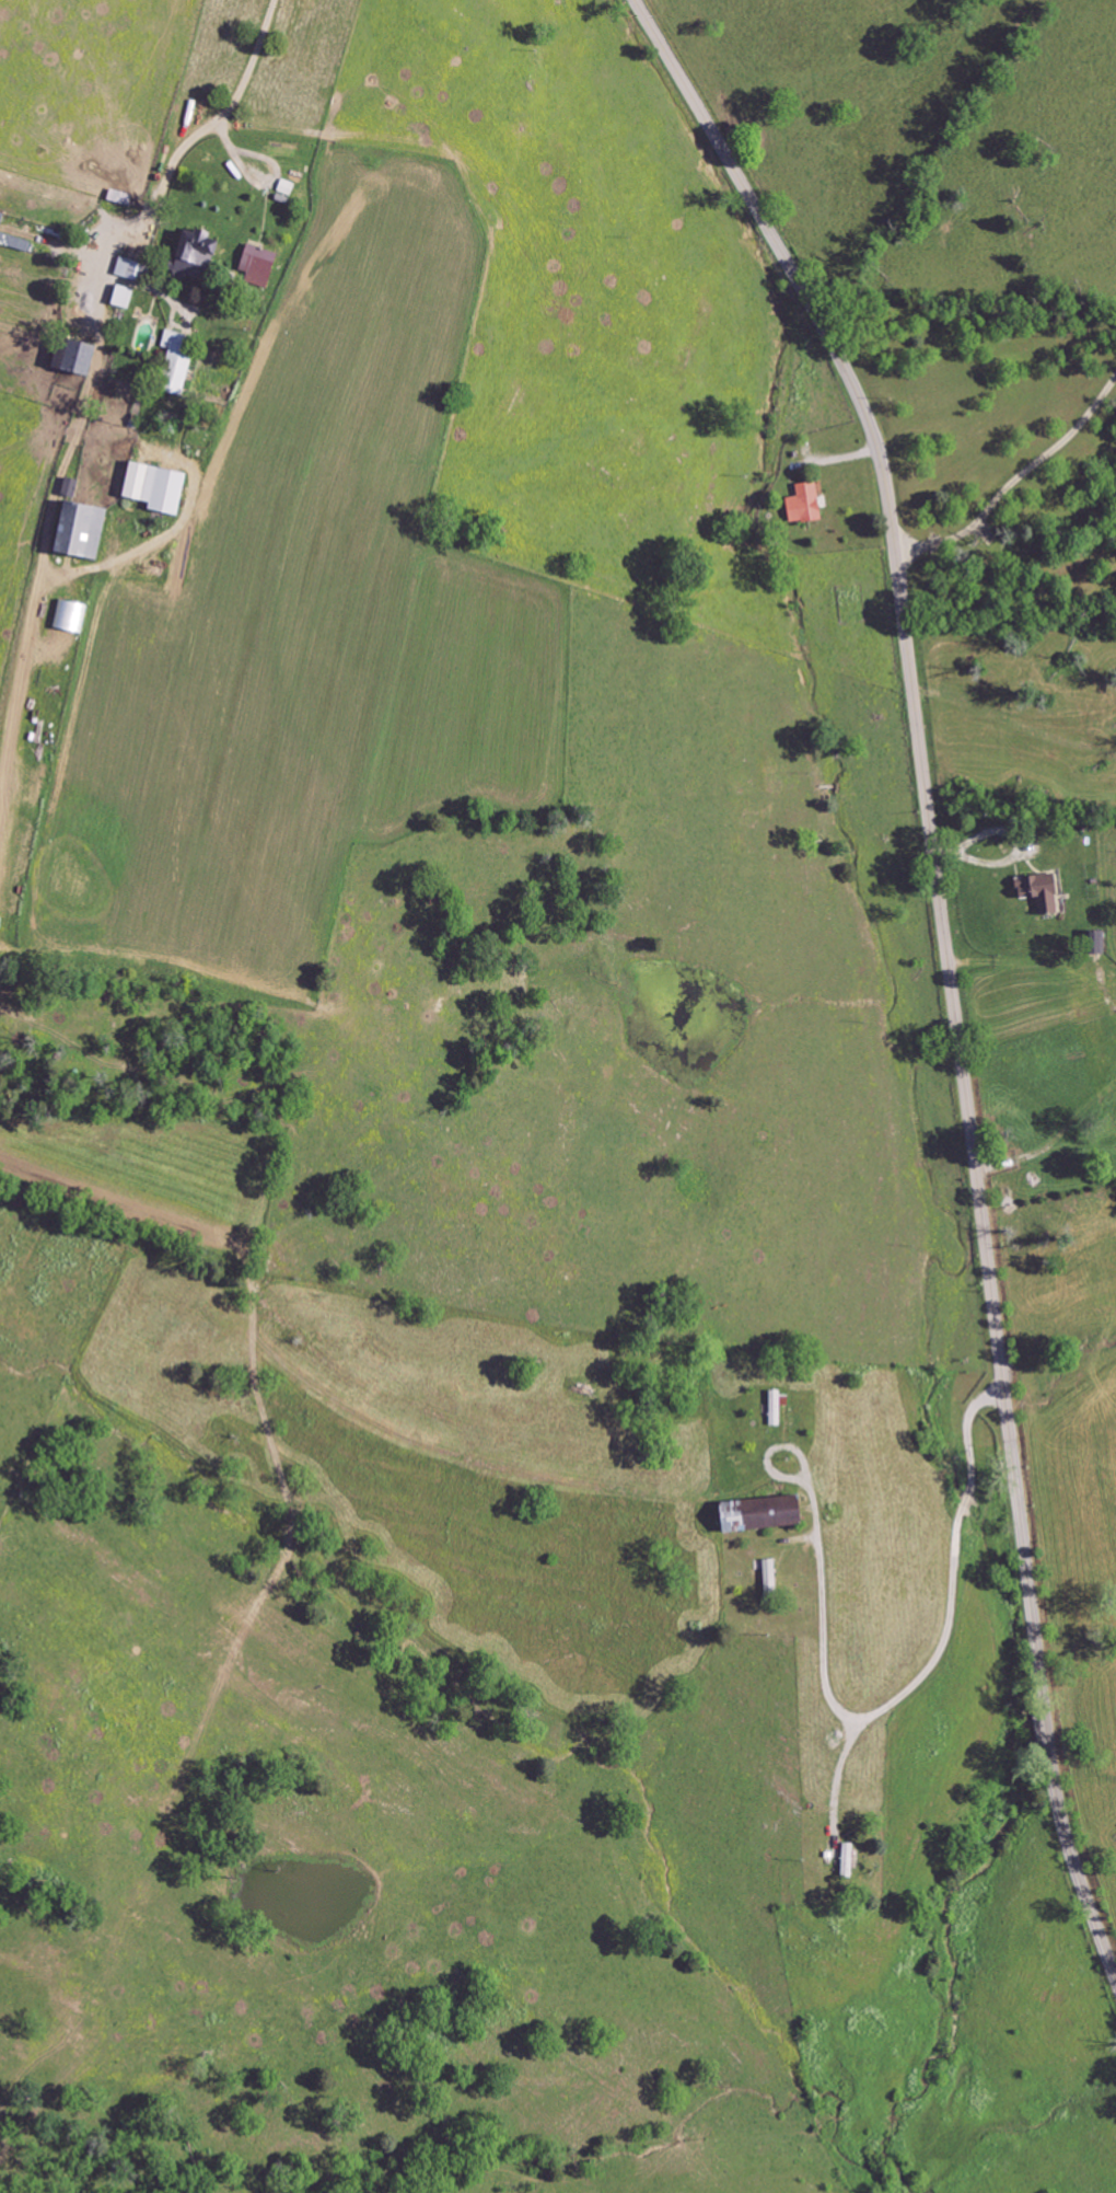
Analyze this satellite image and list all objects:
road: (213, 126)
road: (259, 180)
building: (289, 188)
building: (14, 236)
building: (202, 253)
building: (135, 270)
building: (128, 298)
building: (84, 358)
building: (183, 361)
road: (1015, 483)
building: (75, 488)
building: (163, 488)
building: (802, 505)
building: (89, 532)
building: (1037, 890)
road: (948, 963)
road: (1053, 1140)
building: (766, 1573)
road: (925, 1660)

